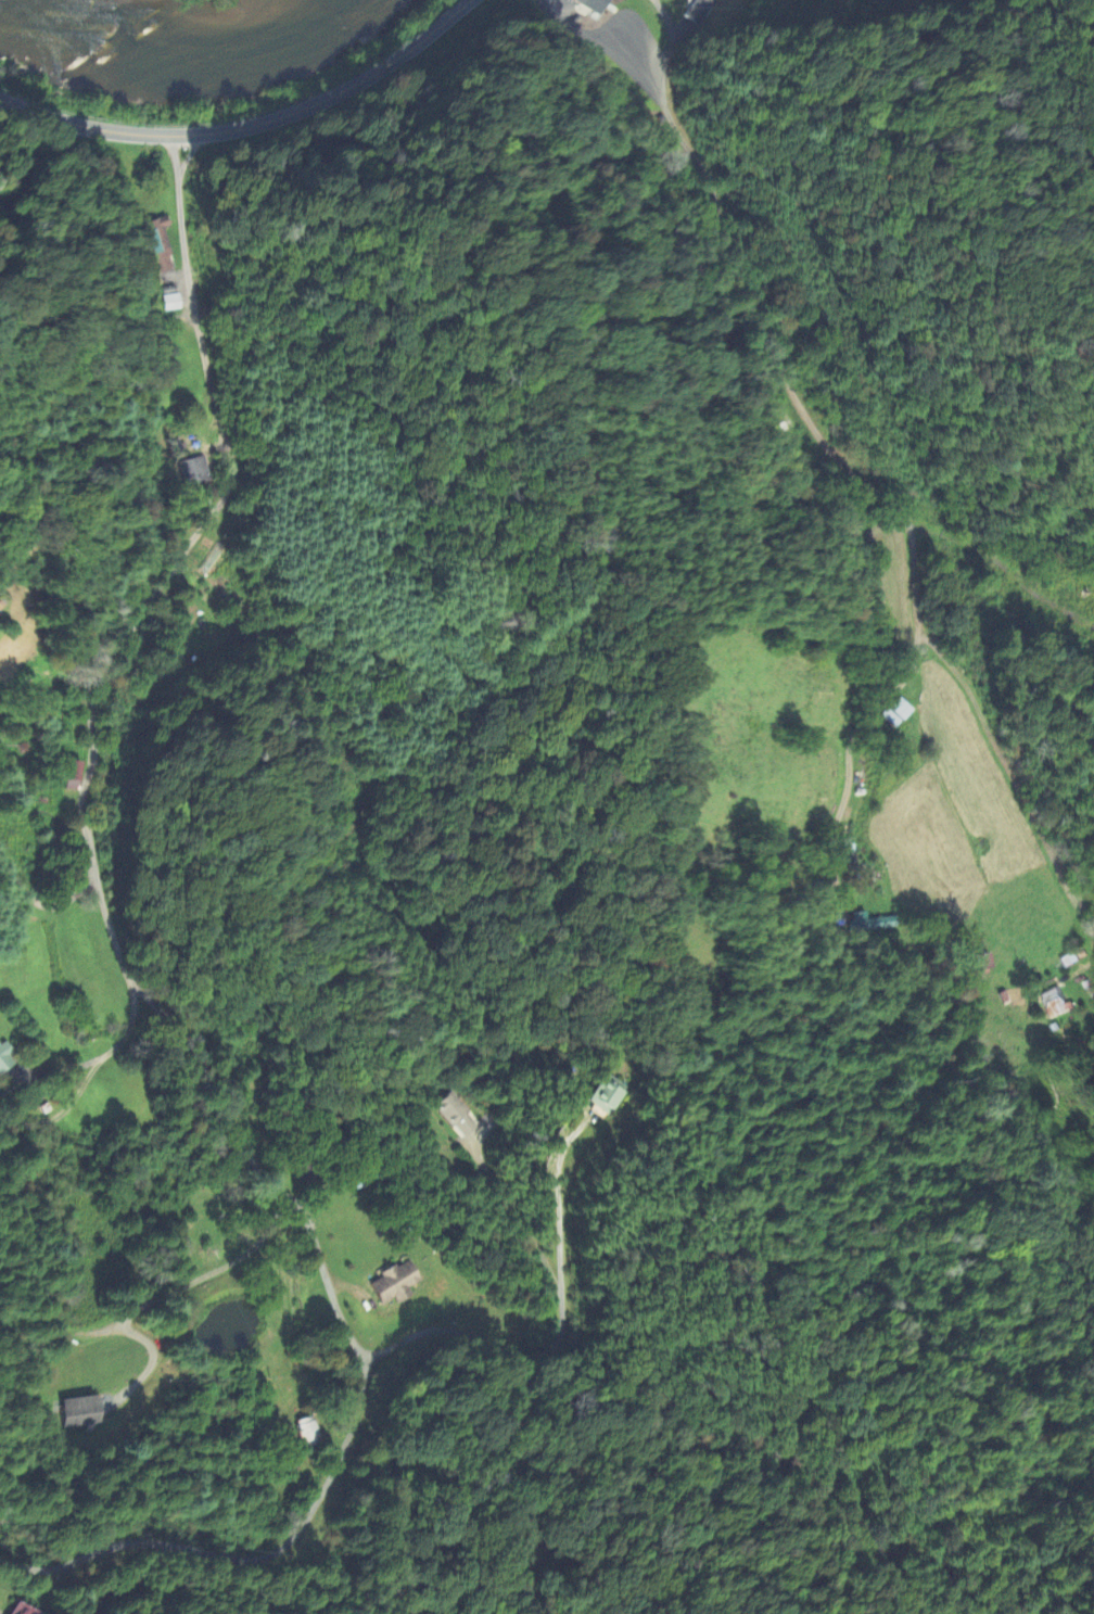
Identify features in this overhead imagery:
building: (596, 3)
building: (700, 11)
river: (194, 35)
road: (251, 126)
building: (161, 244)
building: (196, 471)
road: (858, 473)
road: (117, 660)
building: (896, 712)
road: (853, 750)
building: (71, 775)
road: (42, 905)
building: (873, 923)
building: (1055, 1003)
building: (7, 1059)
building: (606, 1097)
building: (455, 1116)
building: (310, 1171)
road: (518, 1217)
building: (395, 1284)
road: (163, 1295)
road: (560, 1340)
road: (364, 1393)
building: (80, 1411)
building: (307, 1428)
building: (21, 1610)

